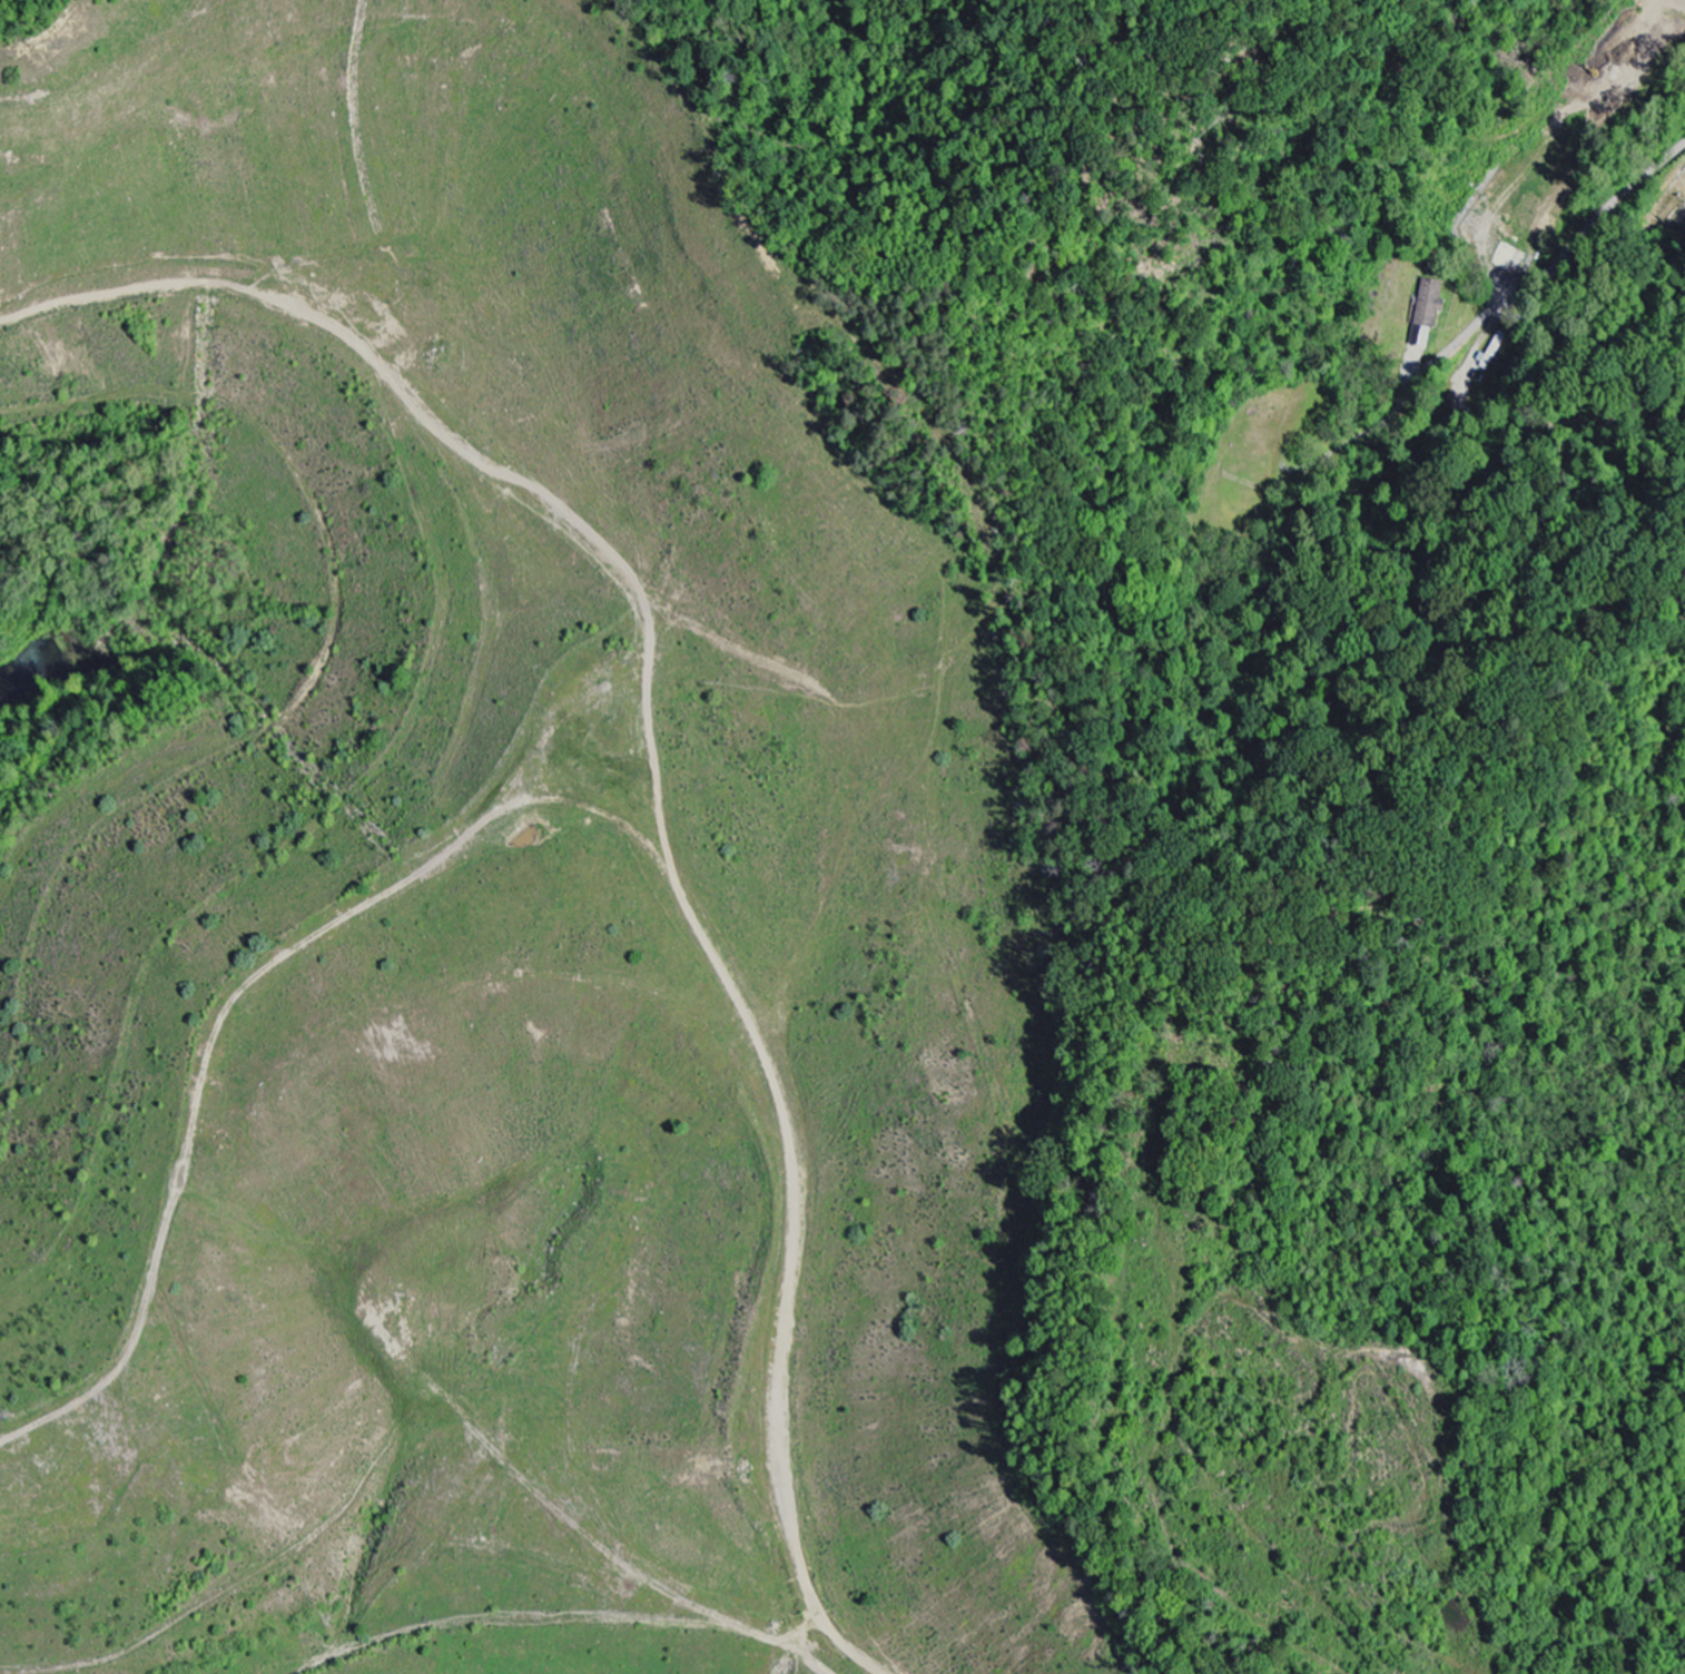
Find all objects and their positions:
road: (1643, 24)
road: (1593, 220)
building: (1425, 312)

